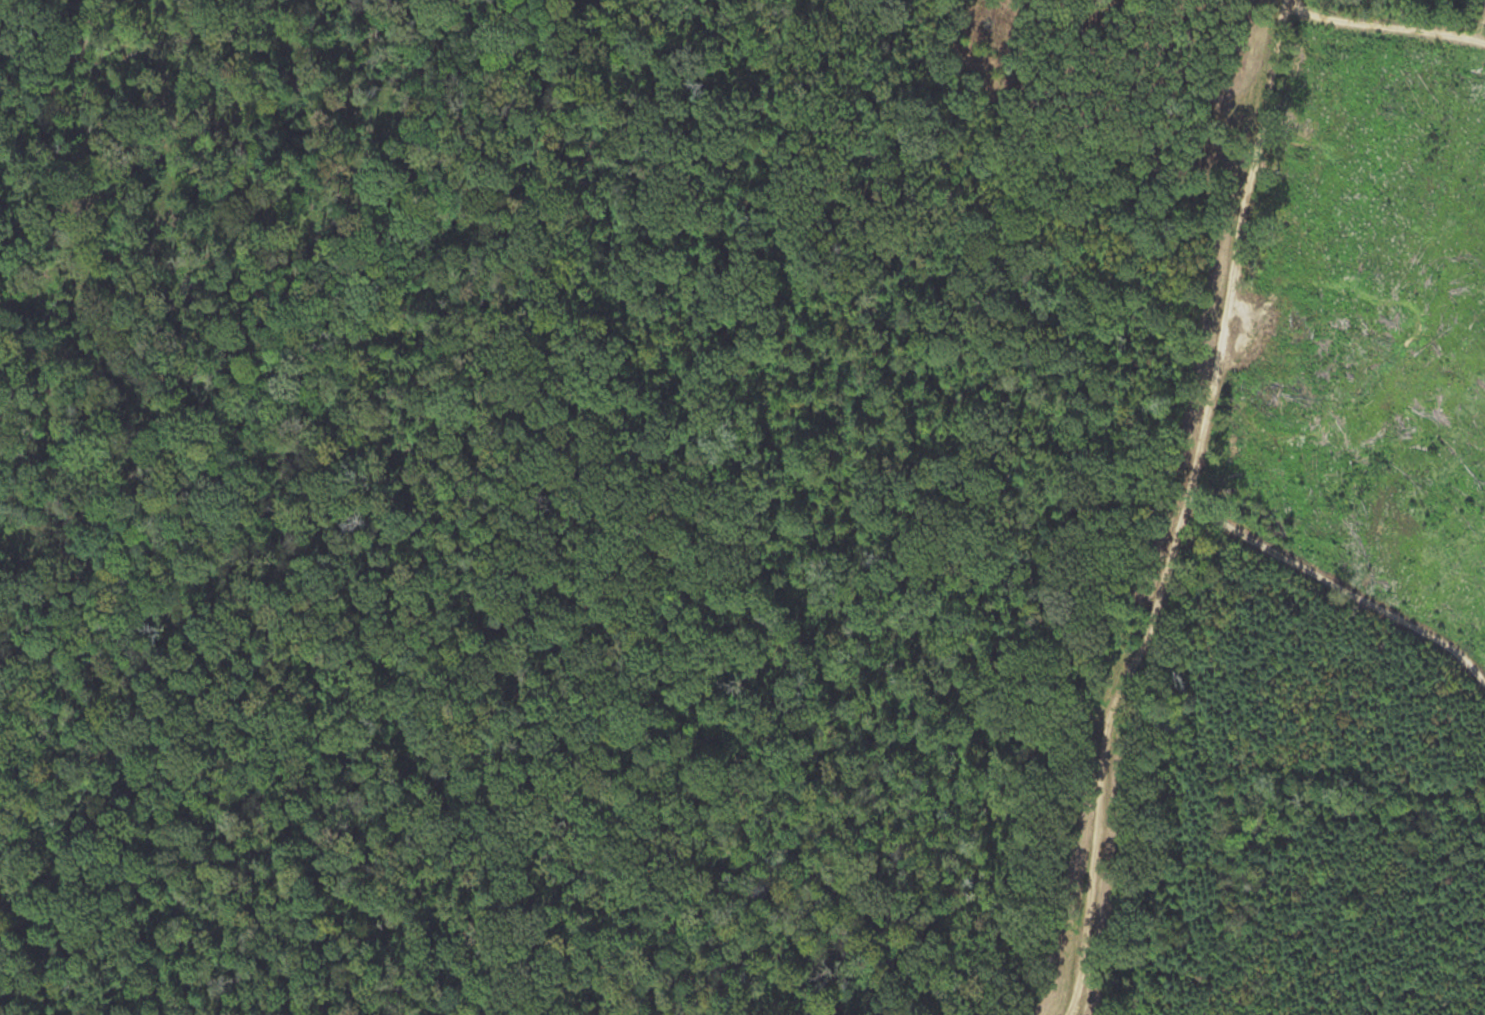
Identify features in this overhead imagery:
road: (1190, 513)
road: (1346, 622)

